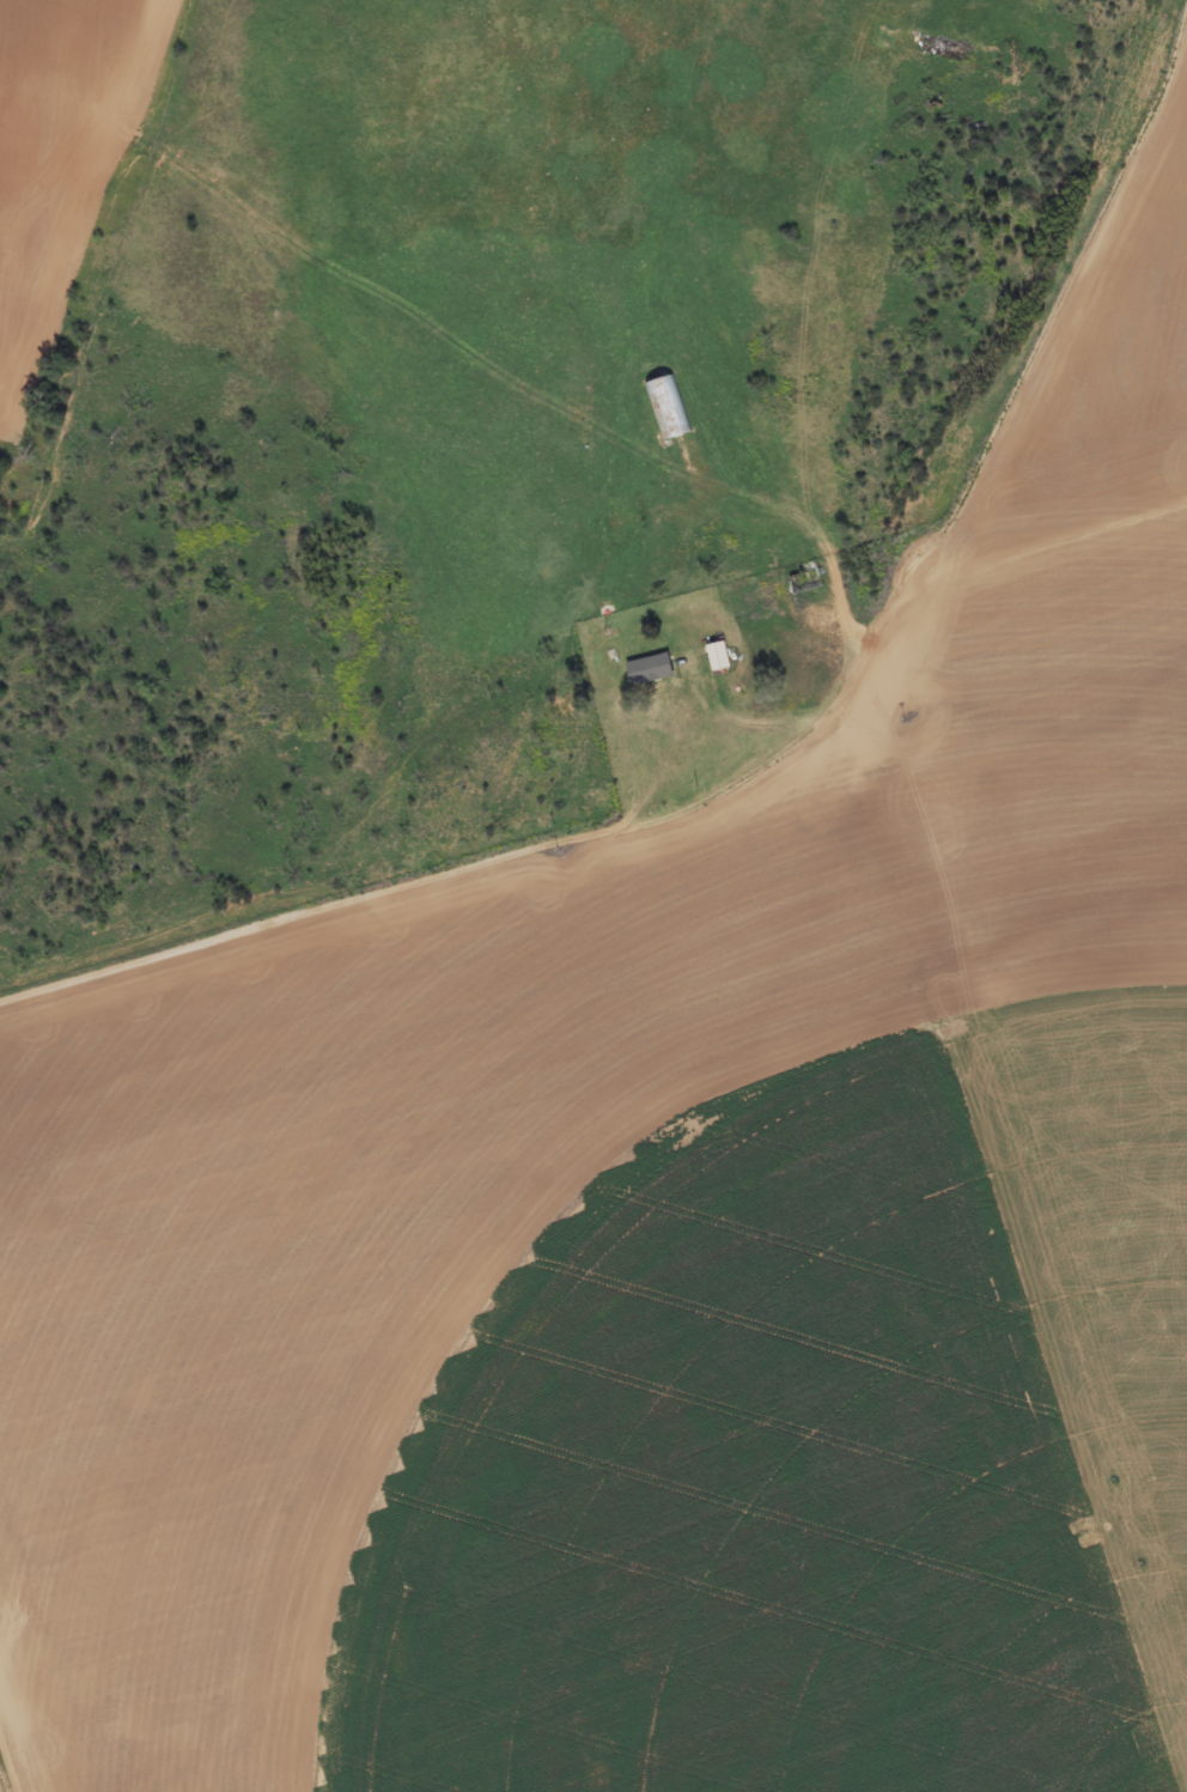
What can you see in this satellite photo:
road: (1061, 367)
road: (513, 375)
building: (672, 411)
building: (724, 658)
building: (656, 672)
road: (932, 819)

